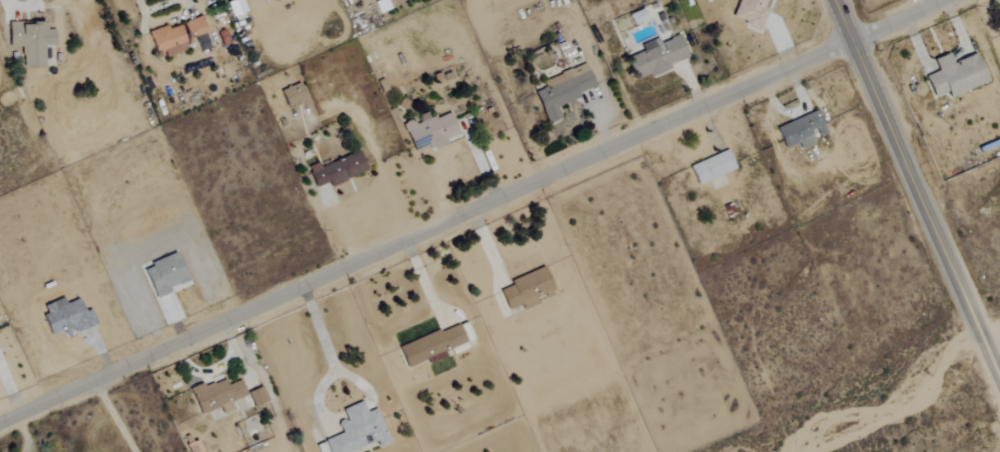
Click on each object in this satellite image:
road: (188, 5)
building: (381, 6)
road: (152, 7)
building: (235, 10)
building: (750, 12)
building: (636, 17)
building: (999, 28)
building: (179, 37)
building: (30, 42)
building: (655, 57)
building: (955, 75)
building: (561, 92)
building: (292, 96)
building: (429, 131)
building: (800, 131)
building: (711, 167)
building: (336, 170)
road: (917, 188)
road: (472, 210)
building: (526, 289)
building: (66, 317)
road: (330, 357)
road: (357, 380)
building: (216, 396)
building: (256, 396)
road: (113, 416)
building: (357, 430)
building: (193, 446)
building: (320, 447)

